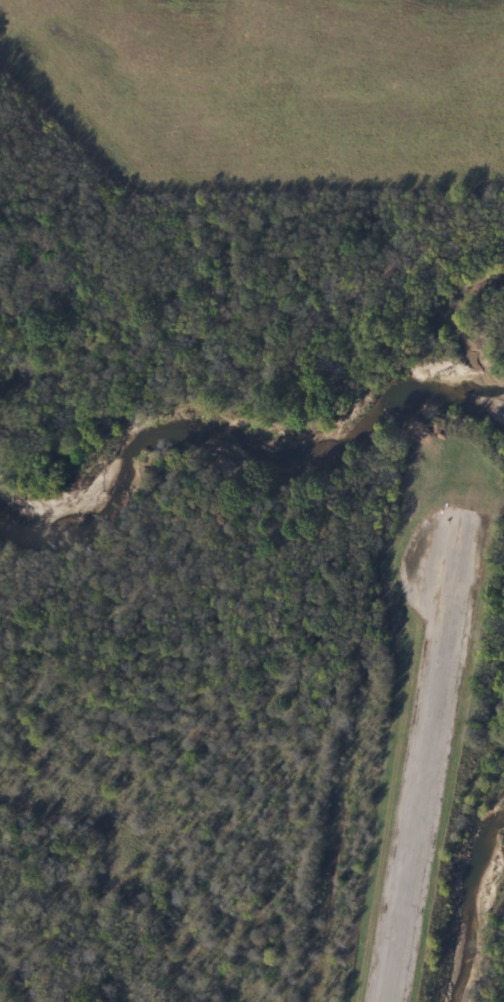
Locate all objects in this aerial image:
airport runway: (426, 758)

